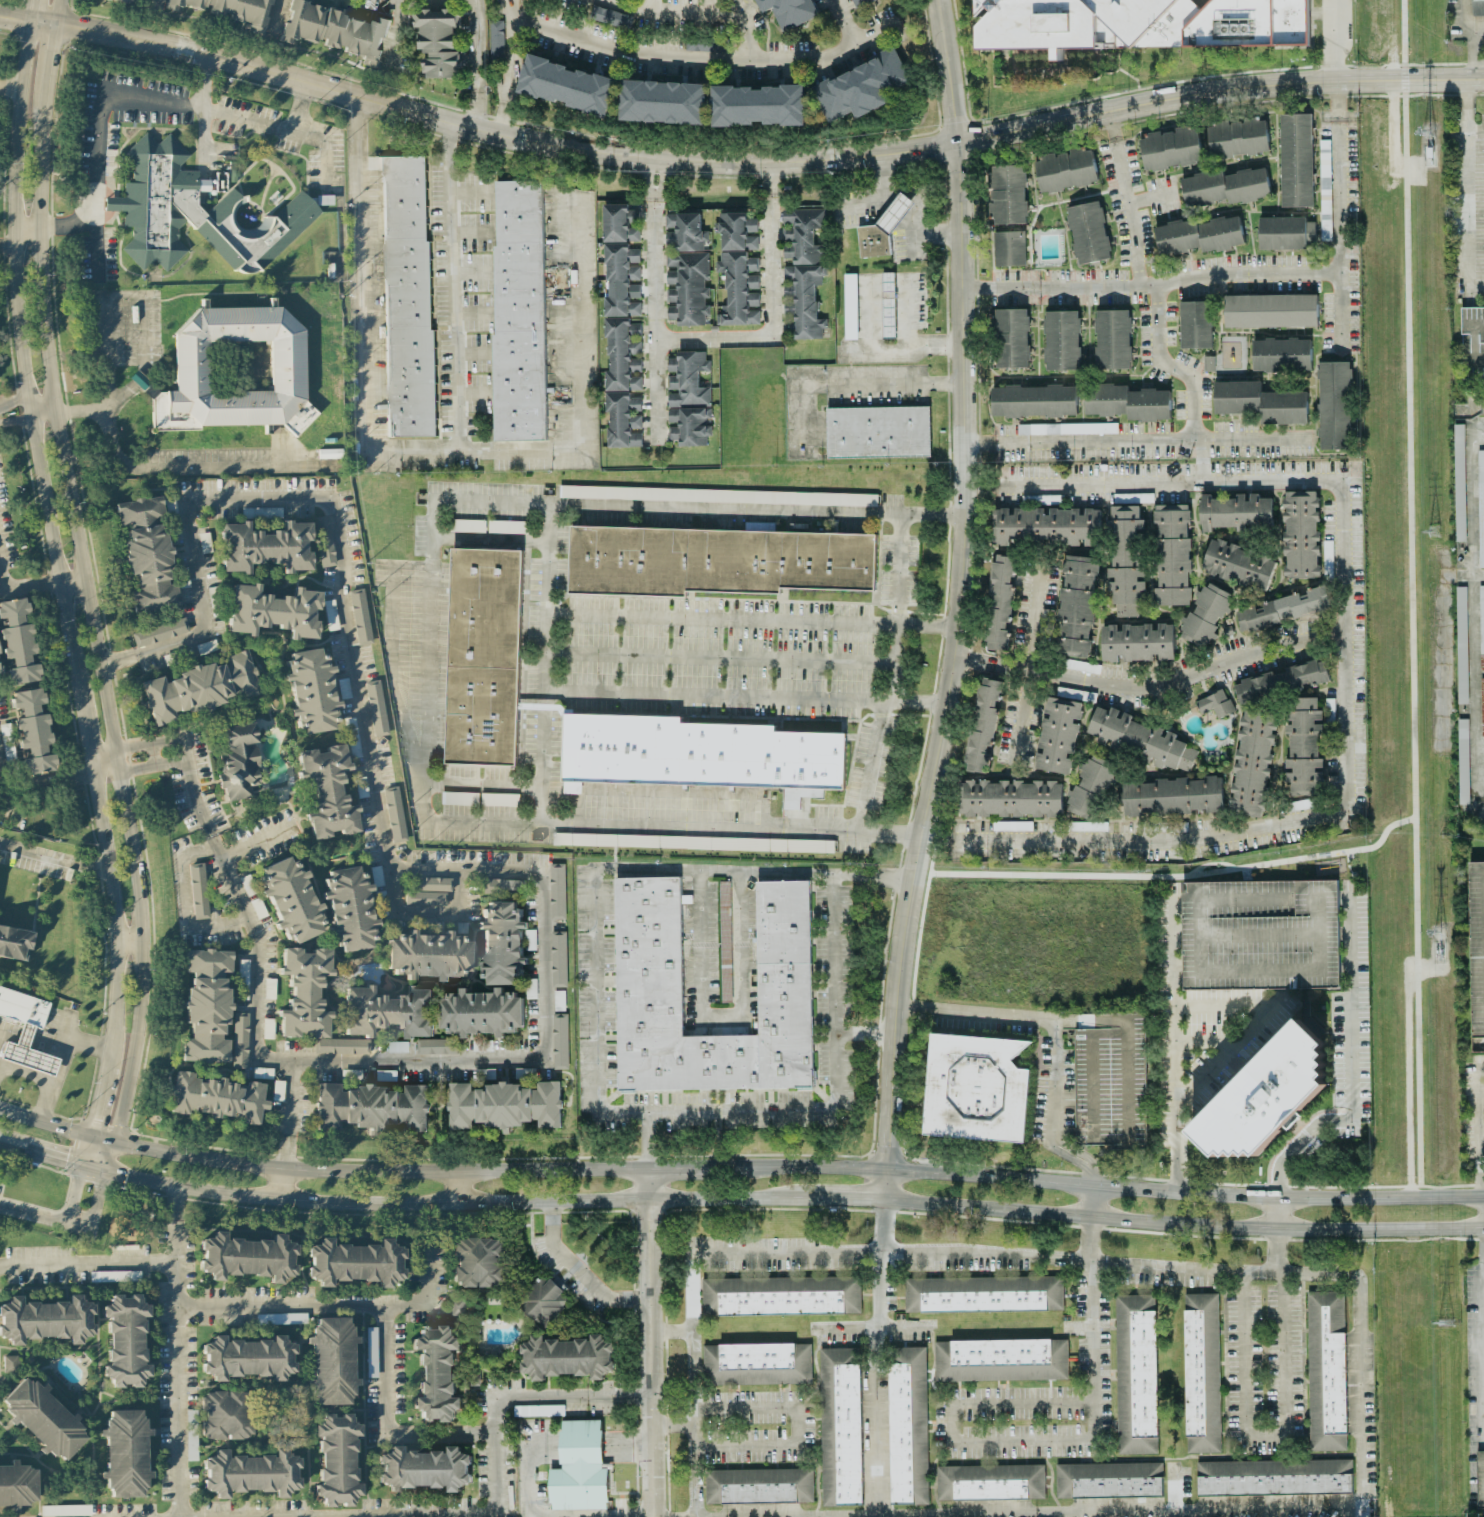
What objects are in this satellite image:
building: (125, 1)
building: (861, 3)
building: (1477, 7)
road: (35, 9)
building: (230, 10)
road: (61, 11)
road: (694, 11)
building: (788, 12)
road: (274, 14)
road: (17, 16)
building: (611, 17)
road: (840, 20)
building: (1141, 24)
road: (1458, 30)
building: (335, 31)
road: (393, 31)
building: (438, 41)
building: (496, 41)
building: (705, 45)
road: (476, 46)
road: (511, 51)
road: (704, 55)
road: (52, 64)
road: (947, 72)
road: (12, 83)
building: (567, 85)
building: (862, 86)
road: (1218, 90)
road: (146, 99)
building: (663, 102)
building: (758, 105)
road: (203, 107)
road: (301, 107)
road: (475, 109)
road: (494, 116)
road: (1476, 127)
road: (491, 131)
power tower: (1426, 131)
building: (1237, 137)
building: (1170, 148)
road: (1468, 150)
building: (1295, 160)
road: (41, 165)
road: (1340, 165)
building: (1065, 170)
building: (1225, 187)
building: (1324, 190)
building: (1007, 194)
road: (1151, 202)
road: (915, 204)
building: (197, 212)
building: (620, 223)
road: (27, 226)
building: (882, 229)
building: (1088, 232)
building: (1283, 233)
building: (1200, 235)
road: (6, 247)
building: (1008, 248)
building: (686, 269)
building: (738, 270)
building: (803, 271)
road: (1154, 283)
road: (458, 286)
road: (1142, 290)
building: (407, 294)
road: (654, 300)
road: (770, 303)
building: (888, 305)
building: (850, 306)
building: (519, 310)
building: (1270, 310)
building: (1195, 324)
building: (1010, 338)
building: (1112, 339)
building: (1061, 340)
building: (1473, 342)
parking lot: (1472, 343)
road: (935, 346)
building: (622, 347)
road: (23, 354)
building: (1281, 354)
building: (239, 365)
building: (287, 369)
road: (859, 384)
road: (127, 389)
building: (689, 398)
building: (1034, 400)
building: (1127, 402)
building: (1260, 402)
road: (14, 404)
building: (1334, 405)
road: (44, 406)
road: (85, 410)
road: (45, 415)
road: (16, 421)
building: (877, 432)
road: (1479, 437)
road: (1136, 439)
road: (426, 452)
road: (201, 469)
building: (1459, 482)
road: (979, 488)
building: (718, 495)
building: (1132, 498)
building: (170, 504)
building: (1480, 507)
building: (1235, 512)
building: (469, 525)
building: (1045, 526)
building: (508, 527)
building: (1300, 534)
power tower: (1429, 534)
road: (83, 544)
building: (265, 547)
building: (326, 550)
building: (1328, 554)
building: (147, 555)
building: (1172, 555)
building: (1126, 560)
building: (716, 561)
building: (1238, 565)
road: (897, 566)
road: (75, 579)
road: (31, 585)
road: (549, 587)
building: (1000, 602)
building: (1076, 604)
building: (1283, 609)
road: (1474, 610)
building: (273, 612)
building: (331, 615)
building: (1204, 615)
road: (754, 616)
building: (360, 617)
building: (1481, 625)
building: (160, 632)
building: (1137, 642)
building: (16, 643)
building: (1461, 643)
building: (207, 647)
road: (1031, 653)
road: (392, 654)
building: (484, 656)
road: (721, 659)
road: (975, 659)
road: (430, 660)
road: (895, 661)
building: (1081, 666)
building: (0, 672)
road: (1174, 673)
road: (951, 674)
road: (1350, 674)
building: (1281, 681)
building: (200, 688)
building: (311, 691)
building: (1215, 704)
building: (1482, 706)
building: (376, 708)
building: (1330, 712)
building: (350, 724)
building: (983, 725)
road: (87, 729)
building: (32, 731)
building: (1058, 735)
building: (1140, 739)
building: (7, 742)
road: (151, 746)
building: (1303, 748)
road: (104, 753)
road: (155, 755)
building: (699, 755)
building: (1463, 761)
building: (239, 762)
building: (1251, 764)
road: (154, 765)
road: (108, 771)
road: (48, 780)
road: (191, 783)
road: (484, 783)
road: (0, 785)
building: (1091, 788)
road: (0, 791)
building: (327, 792)
building: (1172, 796)
building: (460, 798)
building: (1011, 798)
building: (499, 799)
building: (394, 814)
road: (103, 819)
building: (1011, 826)
road: (716, 827)
road: (890, 834)
road: (933, 837)
road: (254, 844)
building: (776, 845)
road: (54, 860)
road: (436, 870)
park: (1299, 870)
road: (1243, 873)
road: (871, 875)
building: (431, 884)
building: (504, 886)
building: (557, 890)
building: (198, 891)
building: (425, 899)
building: (291, 900)
road: (182, 909)
building: (349, 909)
road: (427, 914)
road: (593, 915)
power tower: (1437, 932)
building: (1260, 934)
road: (133, 938)
building: (529, 939)
building: (14, 943)
building: (502, 943)
building: (1476, 952)
parking garage: (1476, 952)
road: (119, 956)
building: (649, 956)
building: (558, 958)
building: (242, 980)
building: (559, 1000)
building: (311, 1003)
building: (206, 1006)
building: (389, 1012)
building: (482, 1012)
road: (978, 1012)
road: (138, 1018)
road: (721, 1018)
road: (1252, 1028)
road: (69, 1029)
building: (268, 1029)
building: (25, 1031)
building: (240, 1039)
road: (68, 1041)
building: (560, 1041)
building: (482, 1045)
building: (398, 1046)
building: (436, 1046)
road: (1172, 1049)
road: (1417, 1067)
road: (1352, 1073)
building: (351, 1075)
road: (43, 1082)
building: (1111, 1083)
parking garage: (1111, 1083)
building: (976, 1087)
road: (1058, 1090)
building: (1266, 1092)
building: (217, 1098)
building: (504, 1105)
road: (99, 1107)
building: (372, 1107)
road: (289, 1117)
traffic signals: (97, 1119)
road: (1478, 1128)
road: (649, 1139)
road: (1481, 1142)
traffic signals: (136, 1144)
road: (12, 1145)
road: (64, 1161)
traffic signals: (68, 1163)
road: (694, 1166)
road: (321, 1170)
road: (282, 1185)
road: (1111, 1185)
traffic signals: (100, 1186)
road: (458, 1187)
road: (74, 1195)
road: (845, 1200)
road: (1092, 1201)
road: (453, 1204)
road: (92, 1210)
road: (1482, 1211)
road: (1274, 1213)
road: (32, 1215)
road: (1184, 1224)
road: (1483, 1255)
building: (247, 1257)
building: (478, 1262)
building: (355, 1263)
road: (881, 1264)
road: (88, 1265)
road: (579, 1272)
building: (115, 1276)
building: (983, 1294)
building: (781, 1296)
building: (542, 1301)
road: (332, 1305)
building: (458, 1305)
road: (1088, 1309)
building: (281, 1319)
building: (45, 1320)
power tower: (1445, 1323)
road: (869, 1328)
road: (672, 1330)
building: (125, 1341)
road: (652, 1341)
road: (179, 1351)
building: (371, 1352)
building: (567, 1357)
building: (247, 1358)
building: (1000, 1360)
building: (332, 1361)
building: (10, 1363)
building: (757, 1363)
building: (1325, 1371)
building: (436, 1373)
building: (1201, 1373)
building: (1135, 1374)
road: (693, 1386)
road: (237, 1387)
road: (1360, 1389)
road: (571, 1396)
road: (301, 1410)
building: (538, 1410)
road: (363, 1411)
road: (333, 1412)
building: (226, 1415)
building: (43, 1419)
road: (875, 1421)
road: (384, 1422)
building: (841, 1423)
road: (796, 1425)
building: (908, 1425)
road: (673, 1426)
road: (1282, 1435)
building: (192, 1438)
road: (952, 1441)
road: (378, 1444)
building: (125, 1454)
road: (492, 1456)
building: (337, 1460)
building: (579, 1468)
building: (424, 1469)
building: (251, 1474)
road: (529, 1475)
building: (1273, 1477)
building: (1108, 1480)
building: (990, 1482)
building: (16, 1486)
building: (758, 1486)
building: (65, 1510)

